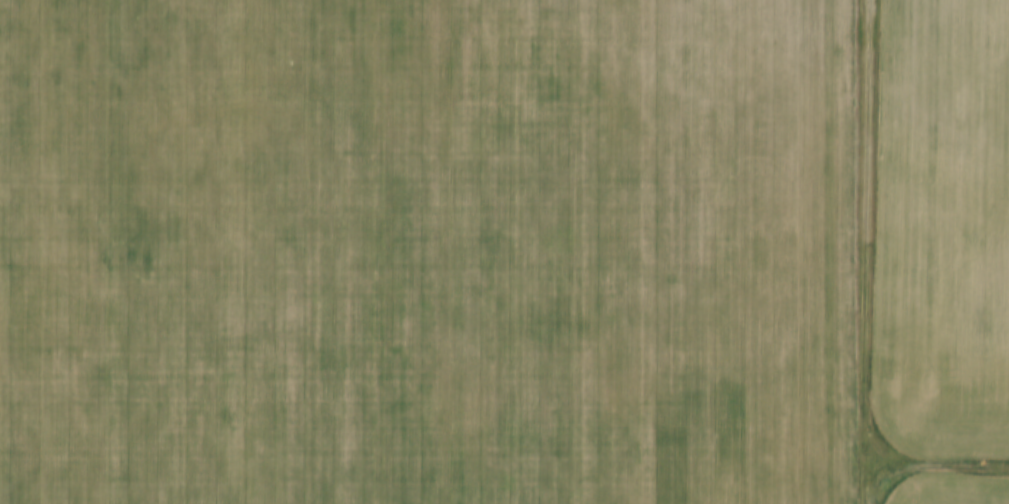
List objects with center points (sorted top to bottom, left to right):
road: (867, 252)
road: (938, 465)

